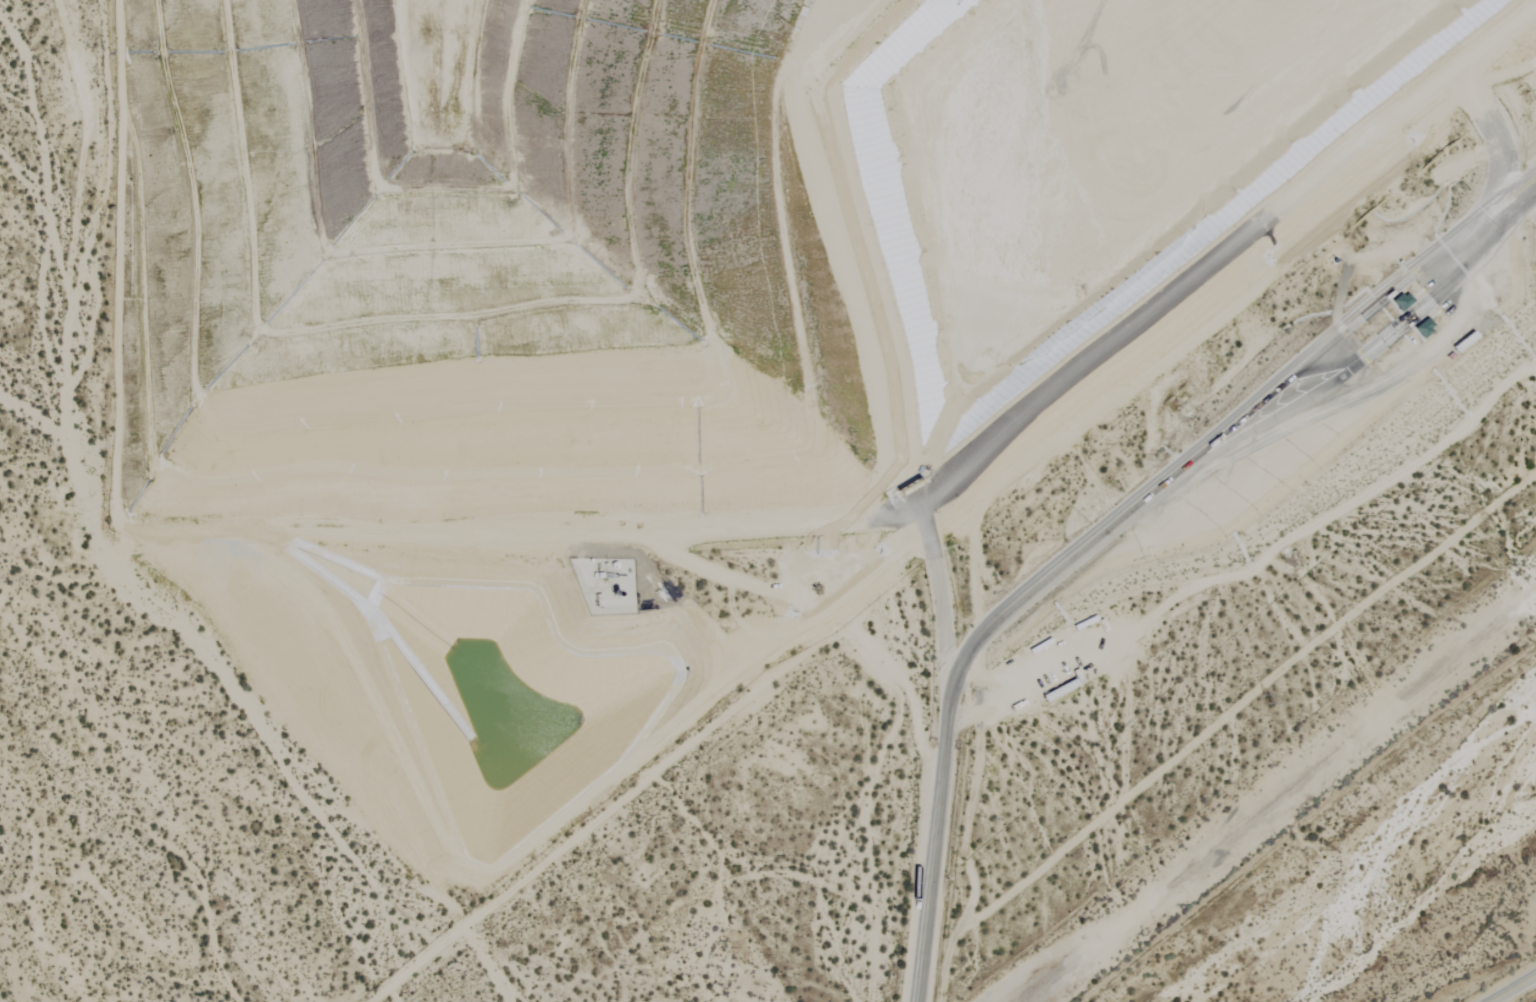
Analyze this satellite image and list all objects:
building: (1398, 302)
building: (1421, 329)
road: (1148, 502)
power tower: (1259, 706)
road: (1515, 989)

